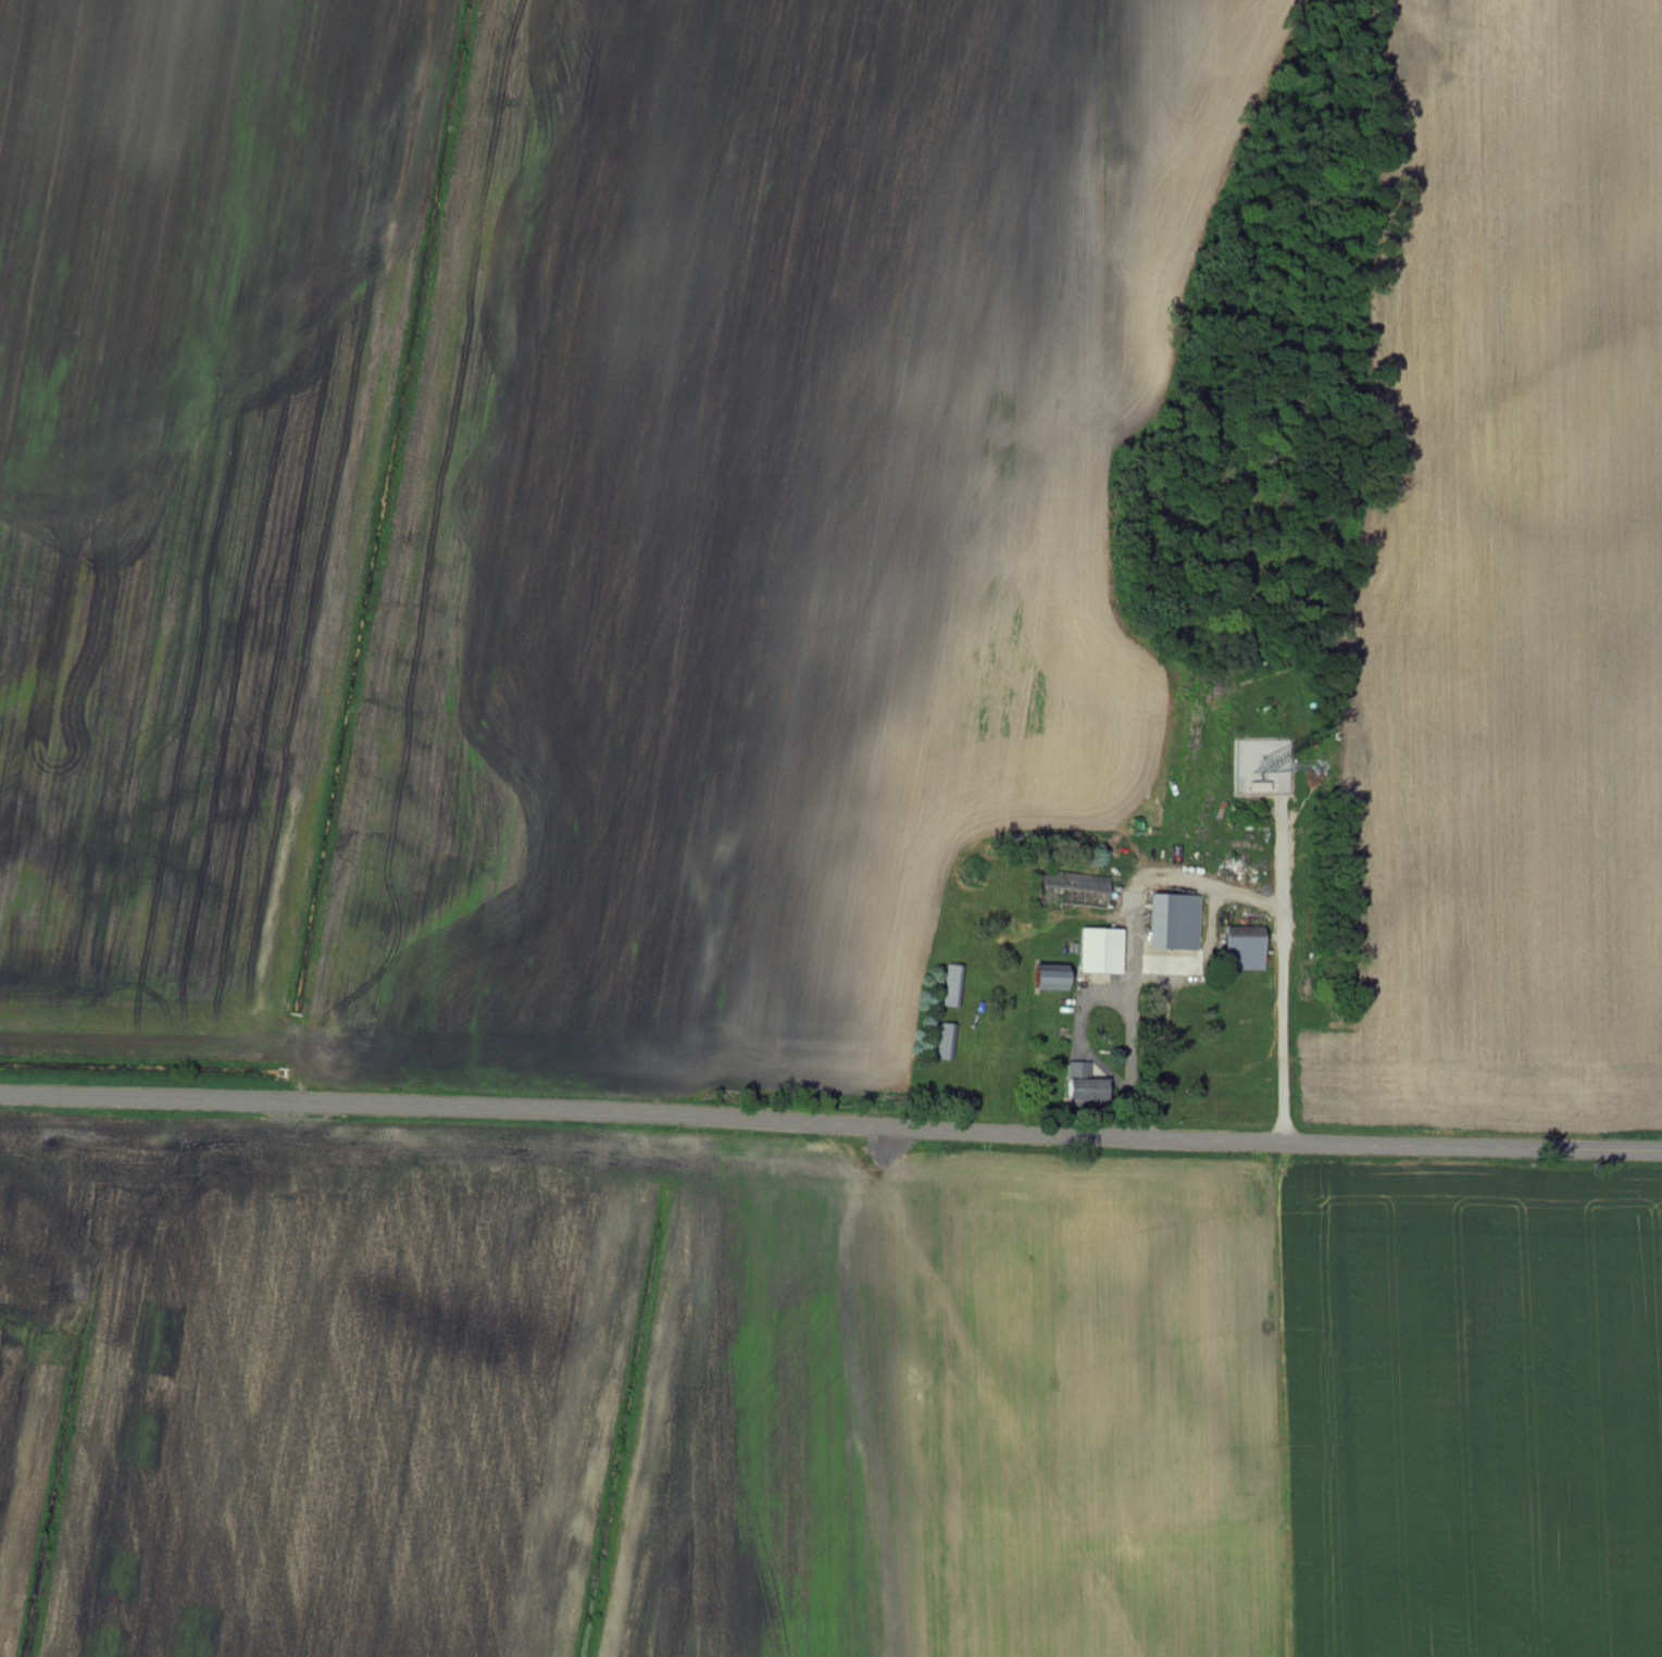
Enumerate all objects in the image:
road: (1177, 882)
building: (1072, 889)
building: (1173, 921)
building: (1242, 947)
building: (1099, 949)
building: (1049, 976)
building: (949, 989)
road: (830, 1122)

